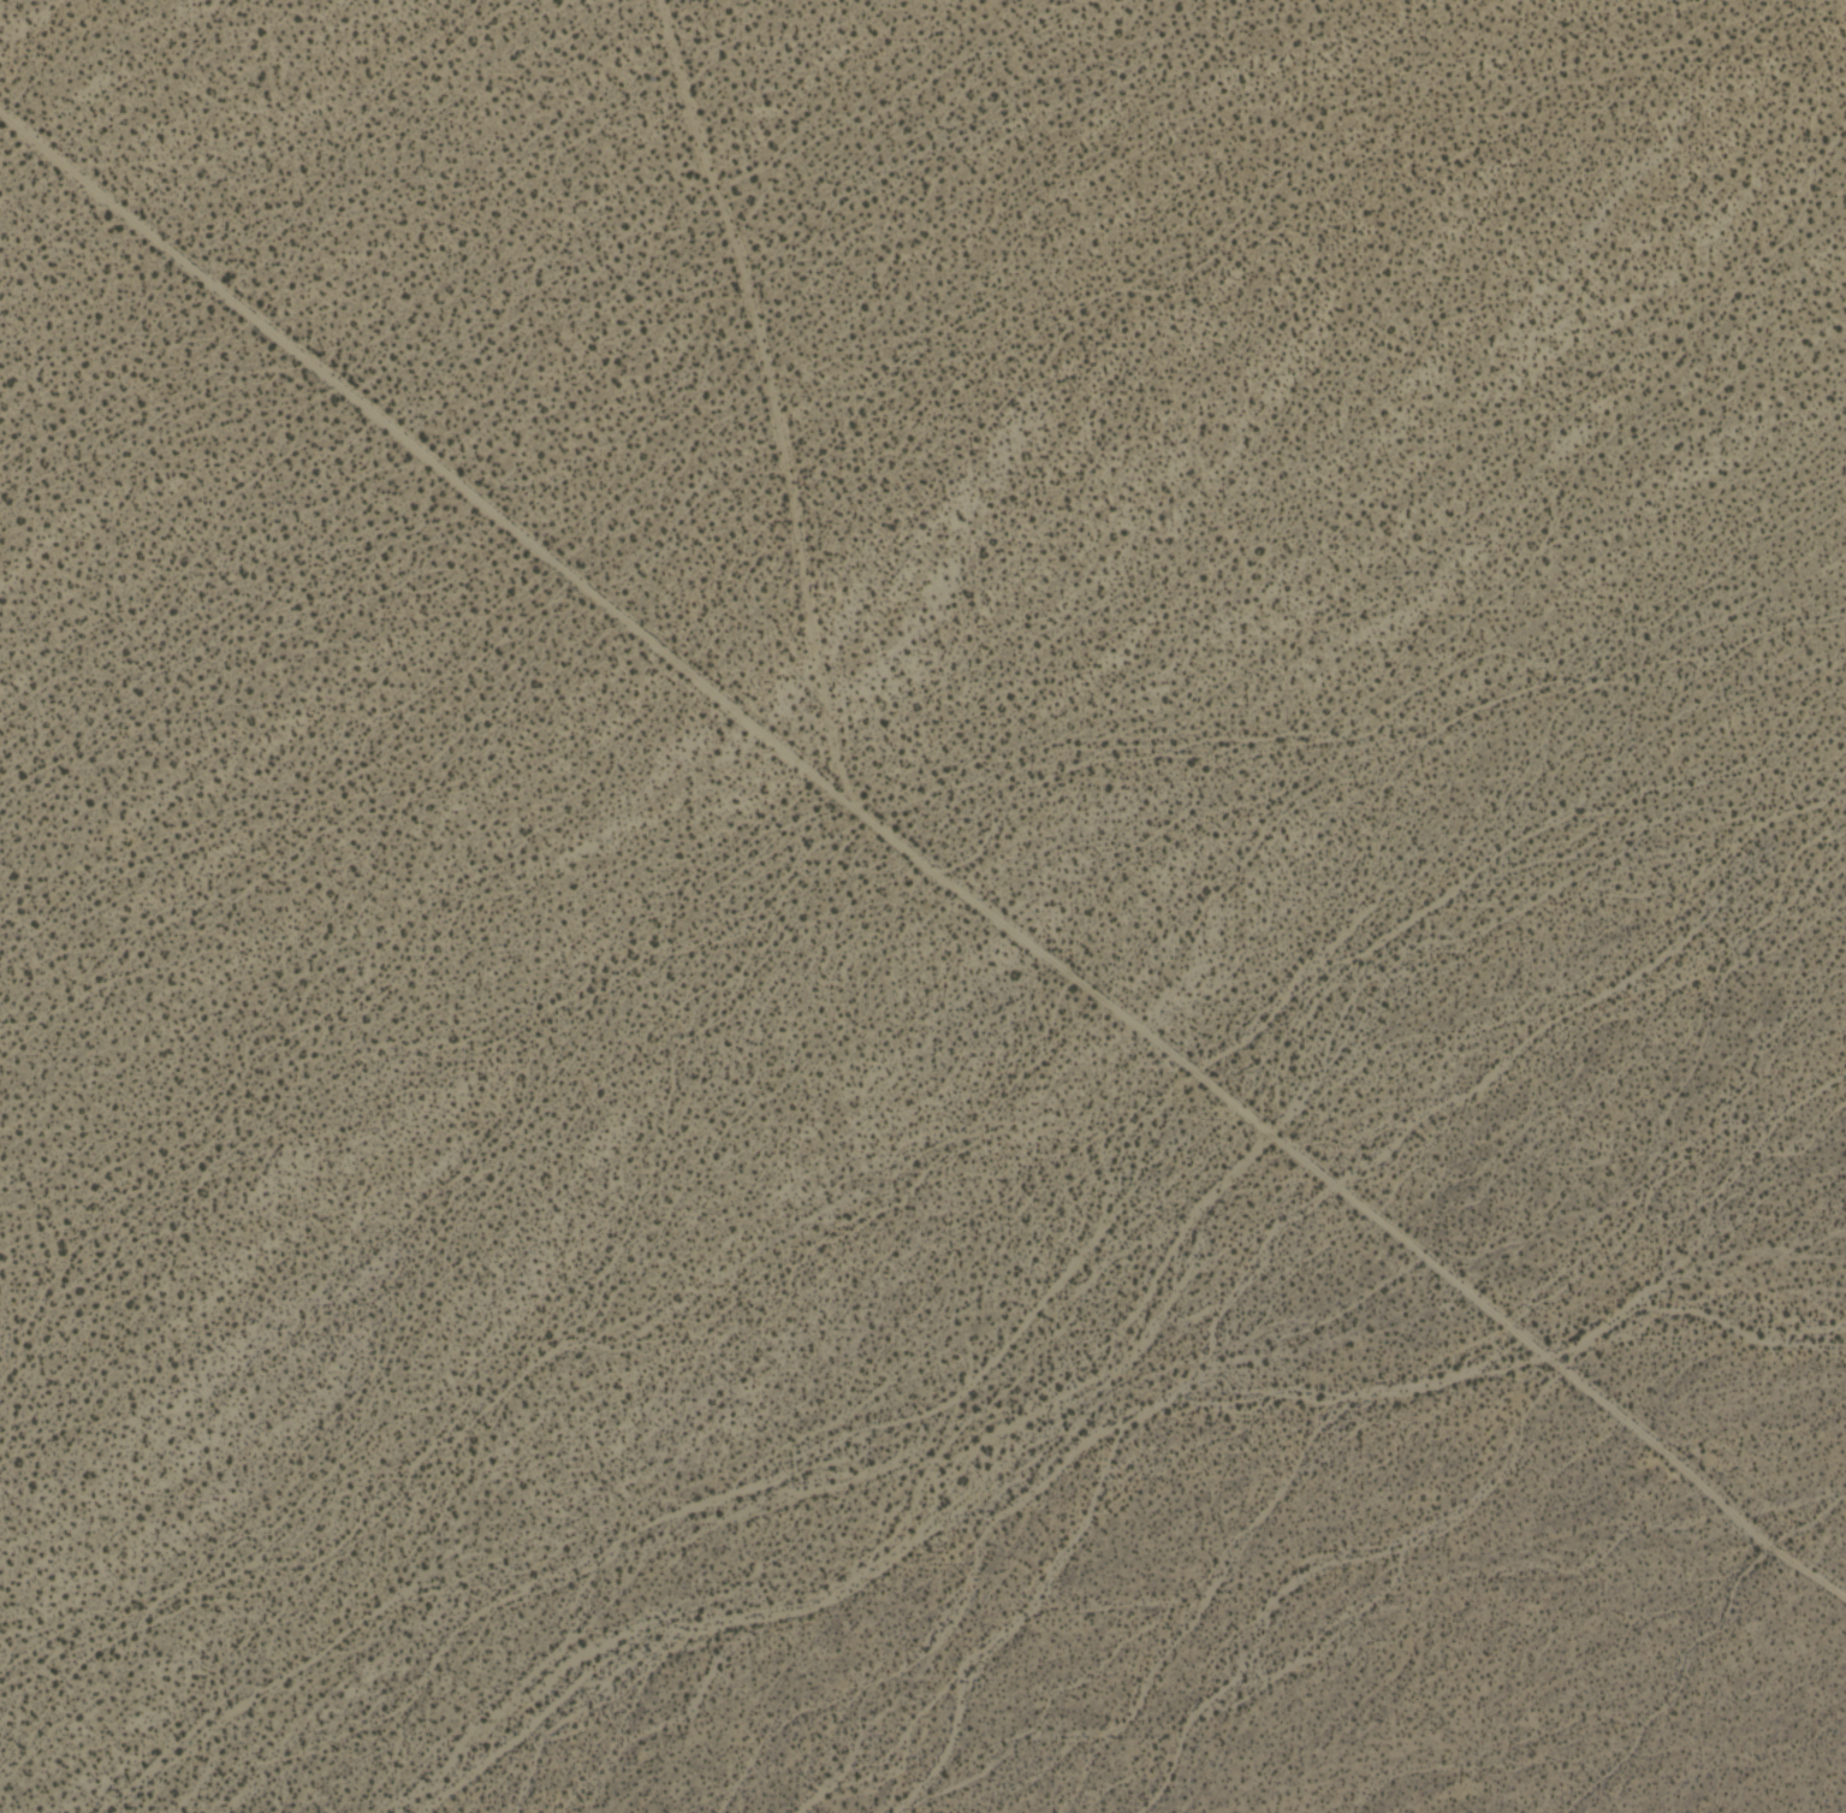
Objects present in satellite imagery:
road: (918, 859)

